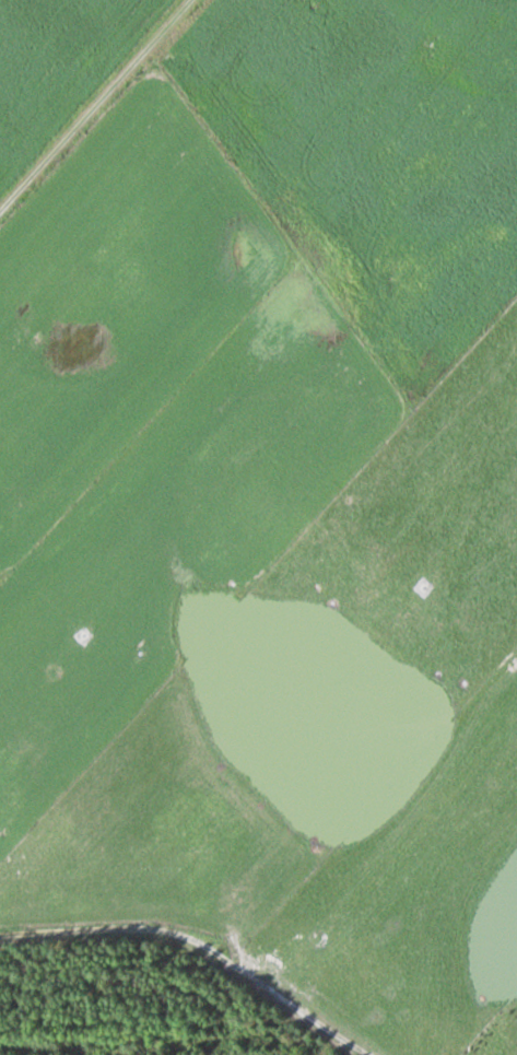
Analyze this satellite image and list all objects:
road: (107, 945)

